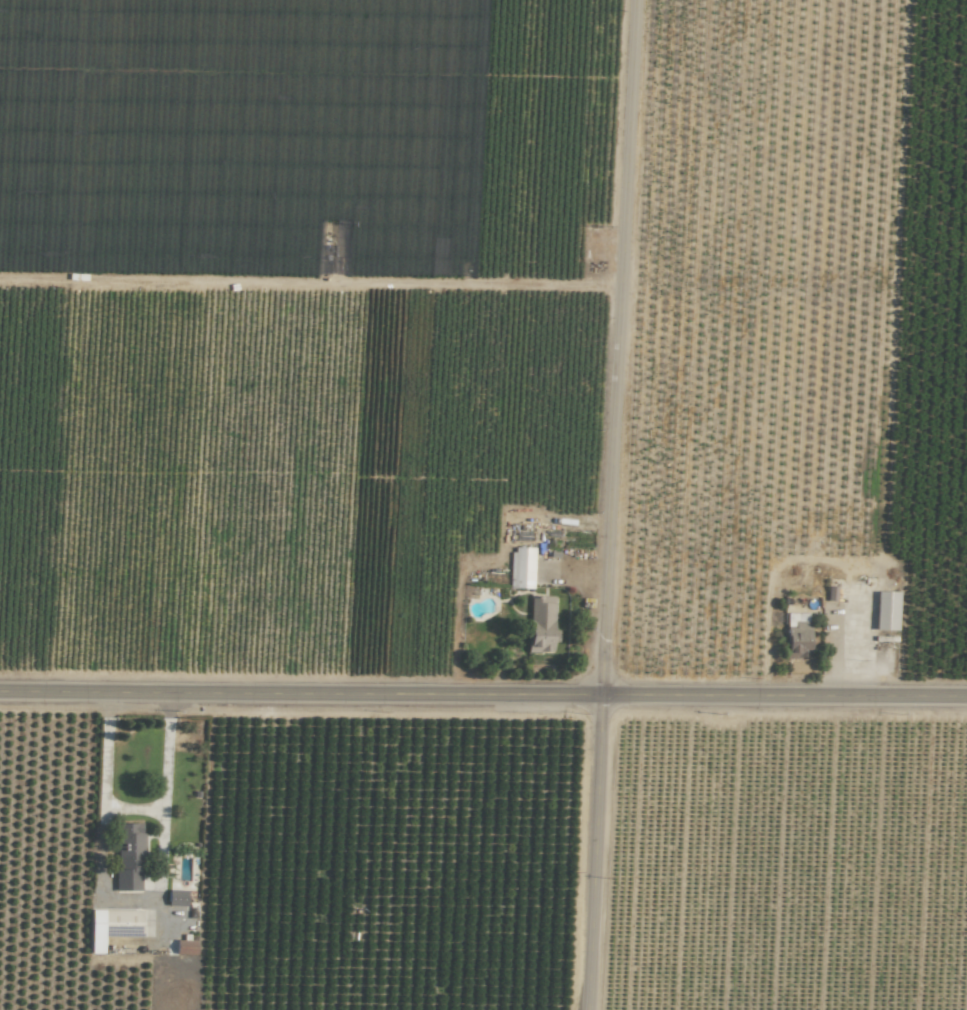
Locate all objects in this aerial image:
road: (609, 504)
building: (521, 567)
building: (887, 610)
building: (541, 624)
building: (798, 635)
road: (483, 694)
road: (134, 814)
building: (129, 857)
building: (177, 897)
road: (131, 900)
building: (113, 926)
building: (186, 947)

